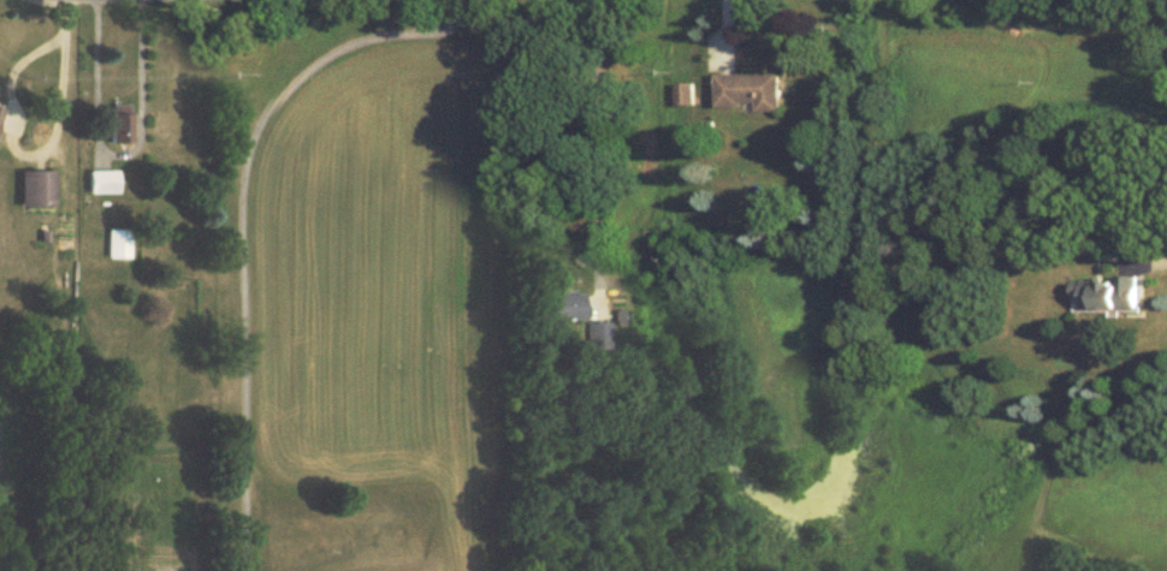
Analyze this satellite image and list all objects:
road: (63, 17)
building: (746, 91)
building: (682, 94)
building: (112, 124)
road: (581, 150)
road: (12, 151)
road: (112, 154)
building: (94, 182)
building: (30, 189)
road: (242, 222)
building: (112, 244)
road: (1163, 251)

